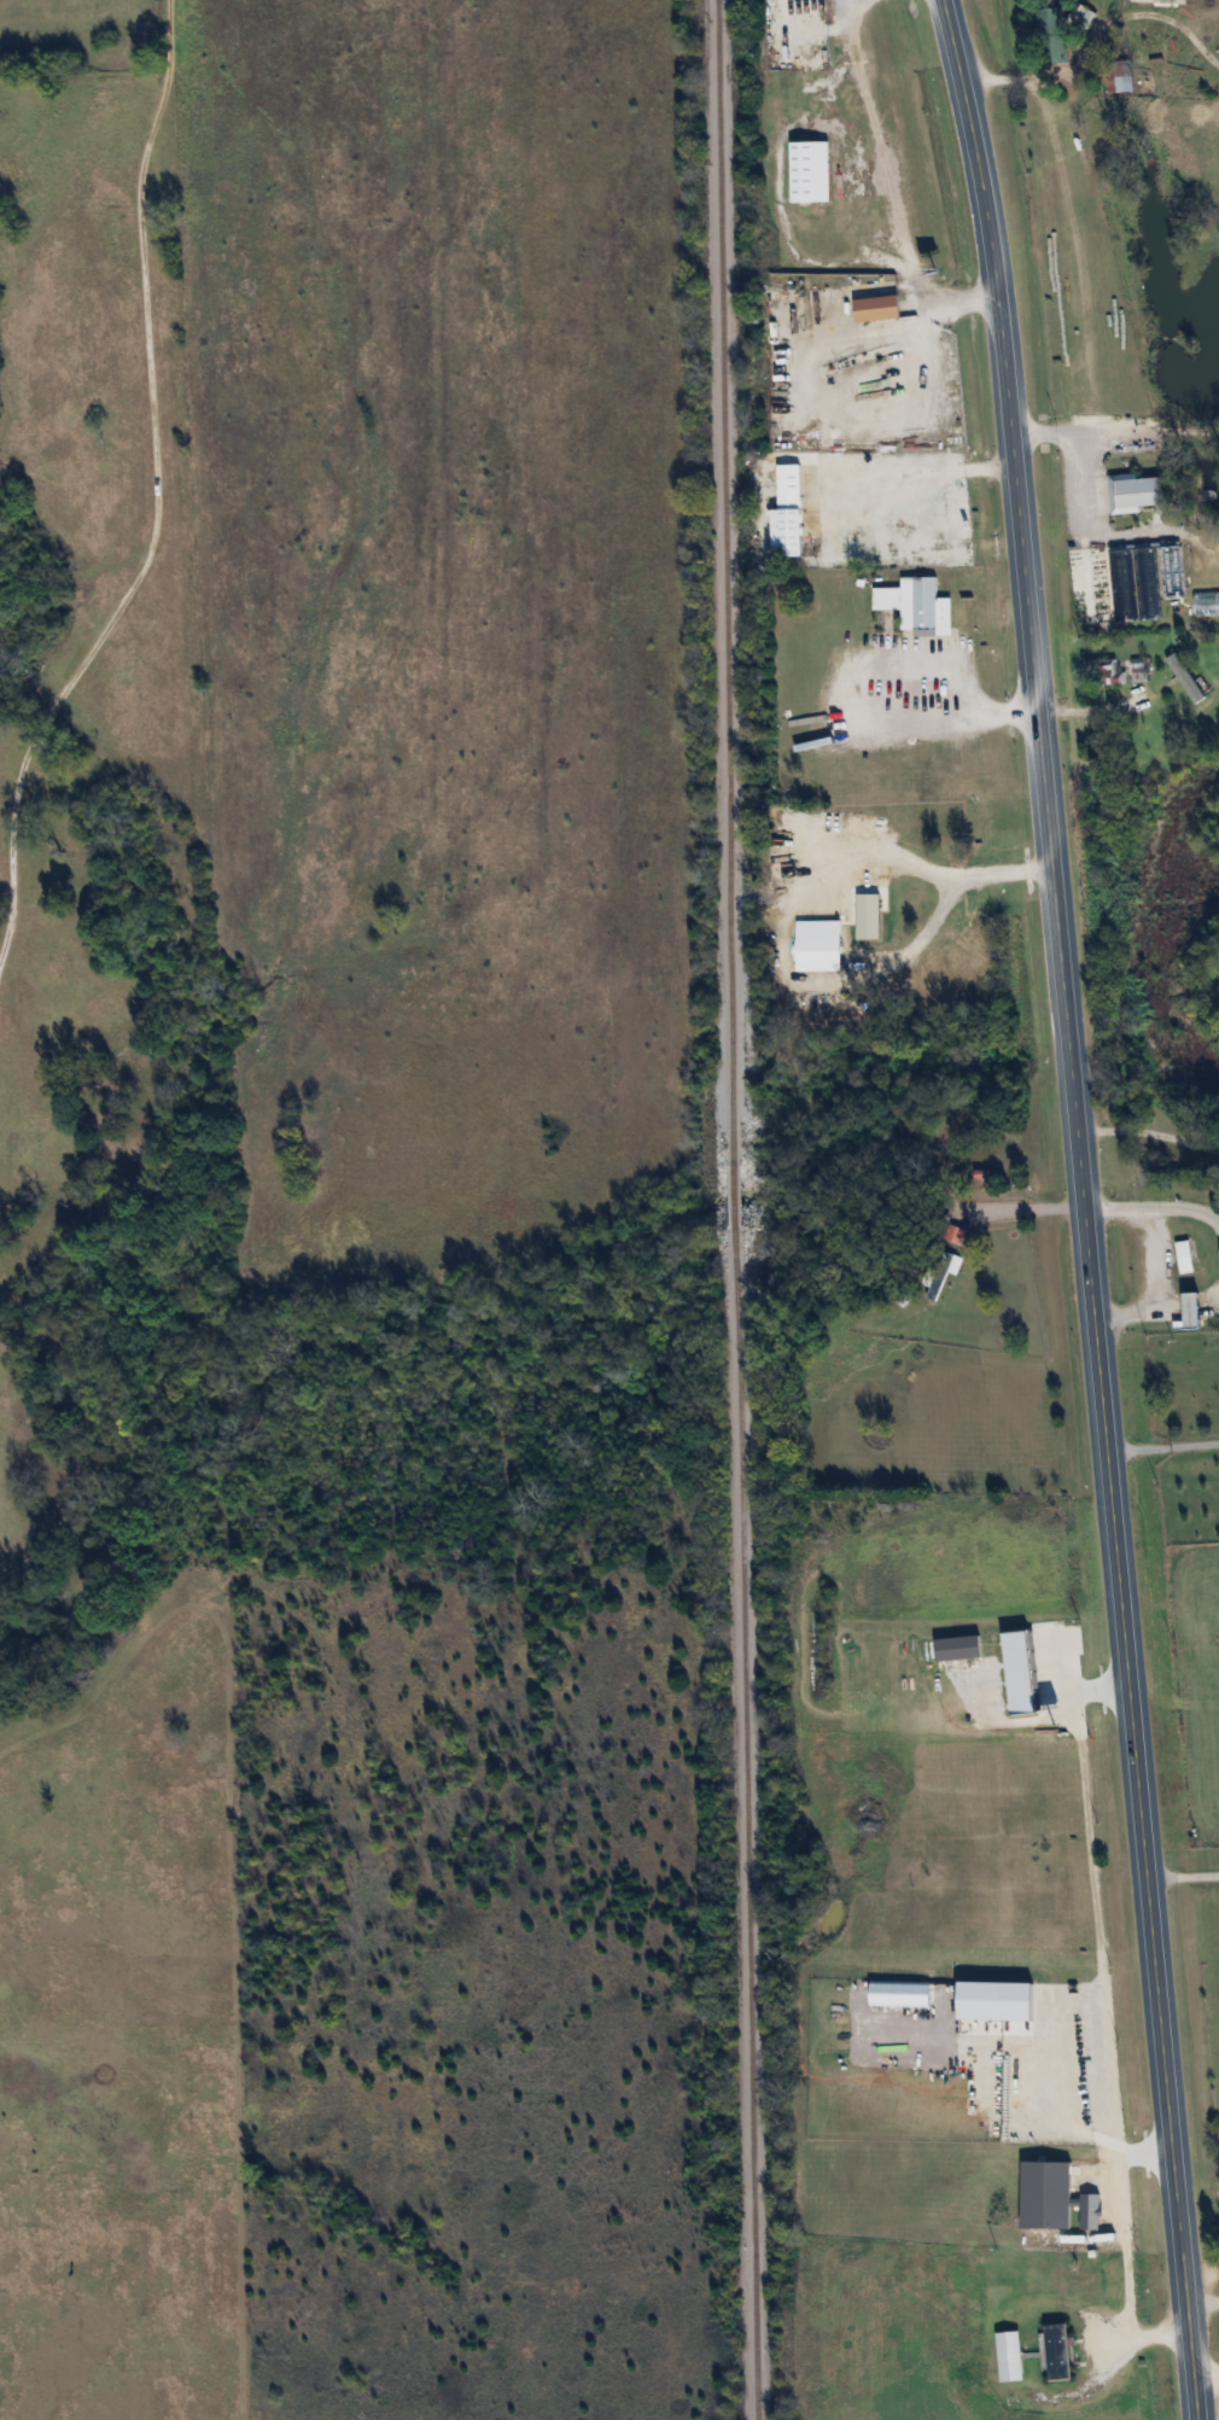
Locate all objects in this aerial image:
building: (1157, 1)
building: (1080, 17)
road: (1092, 28)
building: (1052, 35)
road: (850, 64)
building: (1125, 83)
building: (811, 173)
road: (1144, 419)
road: (1085, 484)
road: (159, 488)
building: (1135, 491)
building: (788, 512)
building: (911, 600)
building: (1148, 602)
building: (1139, 669)
building: (1179, 672)
parking lot: (903, 689)
road: (1095, 705)
road: (858, 712)
building: (813, 949)
road: (800, 980)
road: (1148, 1131)
road: (1084, 1207)
road: (1020, 1208)
railway: (736, 1209)
building: (1185, 1256)
building: (940, 1273)
building: (1194, 1311)
road: (1162, 1445)
road: (1104, 1684)
building: (1040, 1852)
road: (1183, 1874)
road: (1098, 1885)
road: (1066, 2125)
road: (1202, 2303)
building: (1058, 2351)
road: (1109, 2361)
road: (1207, 2373)

